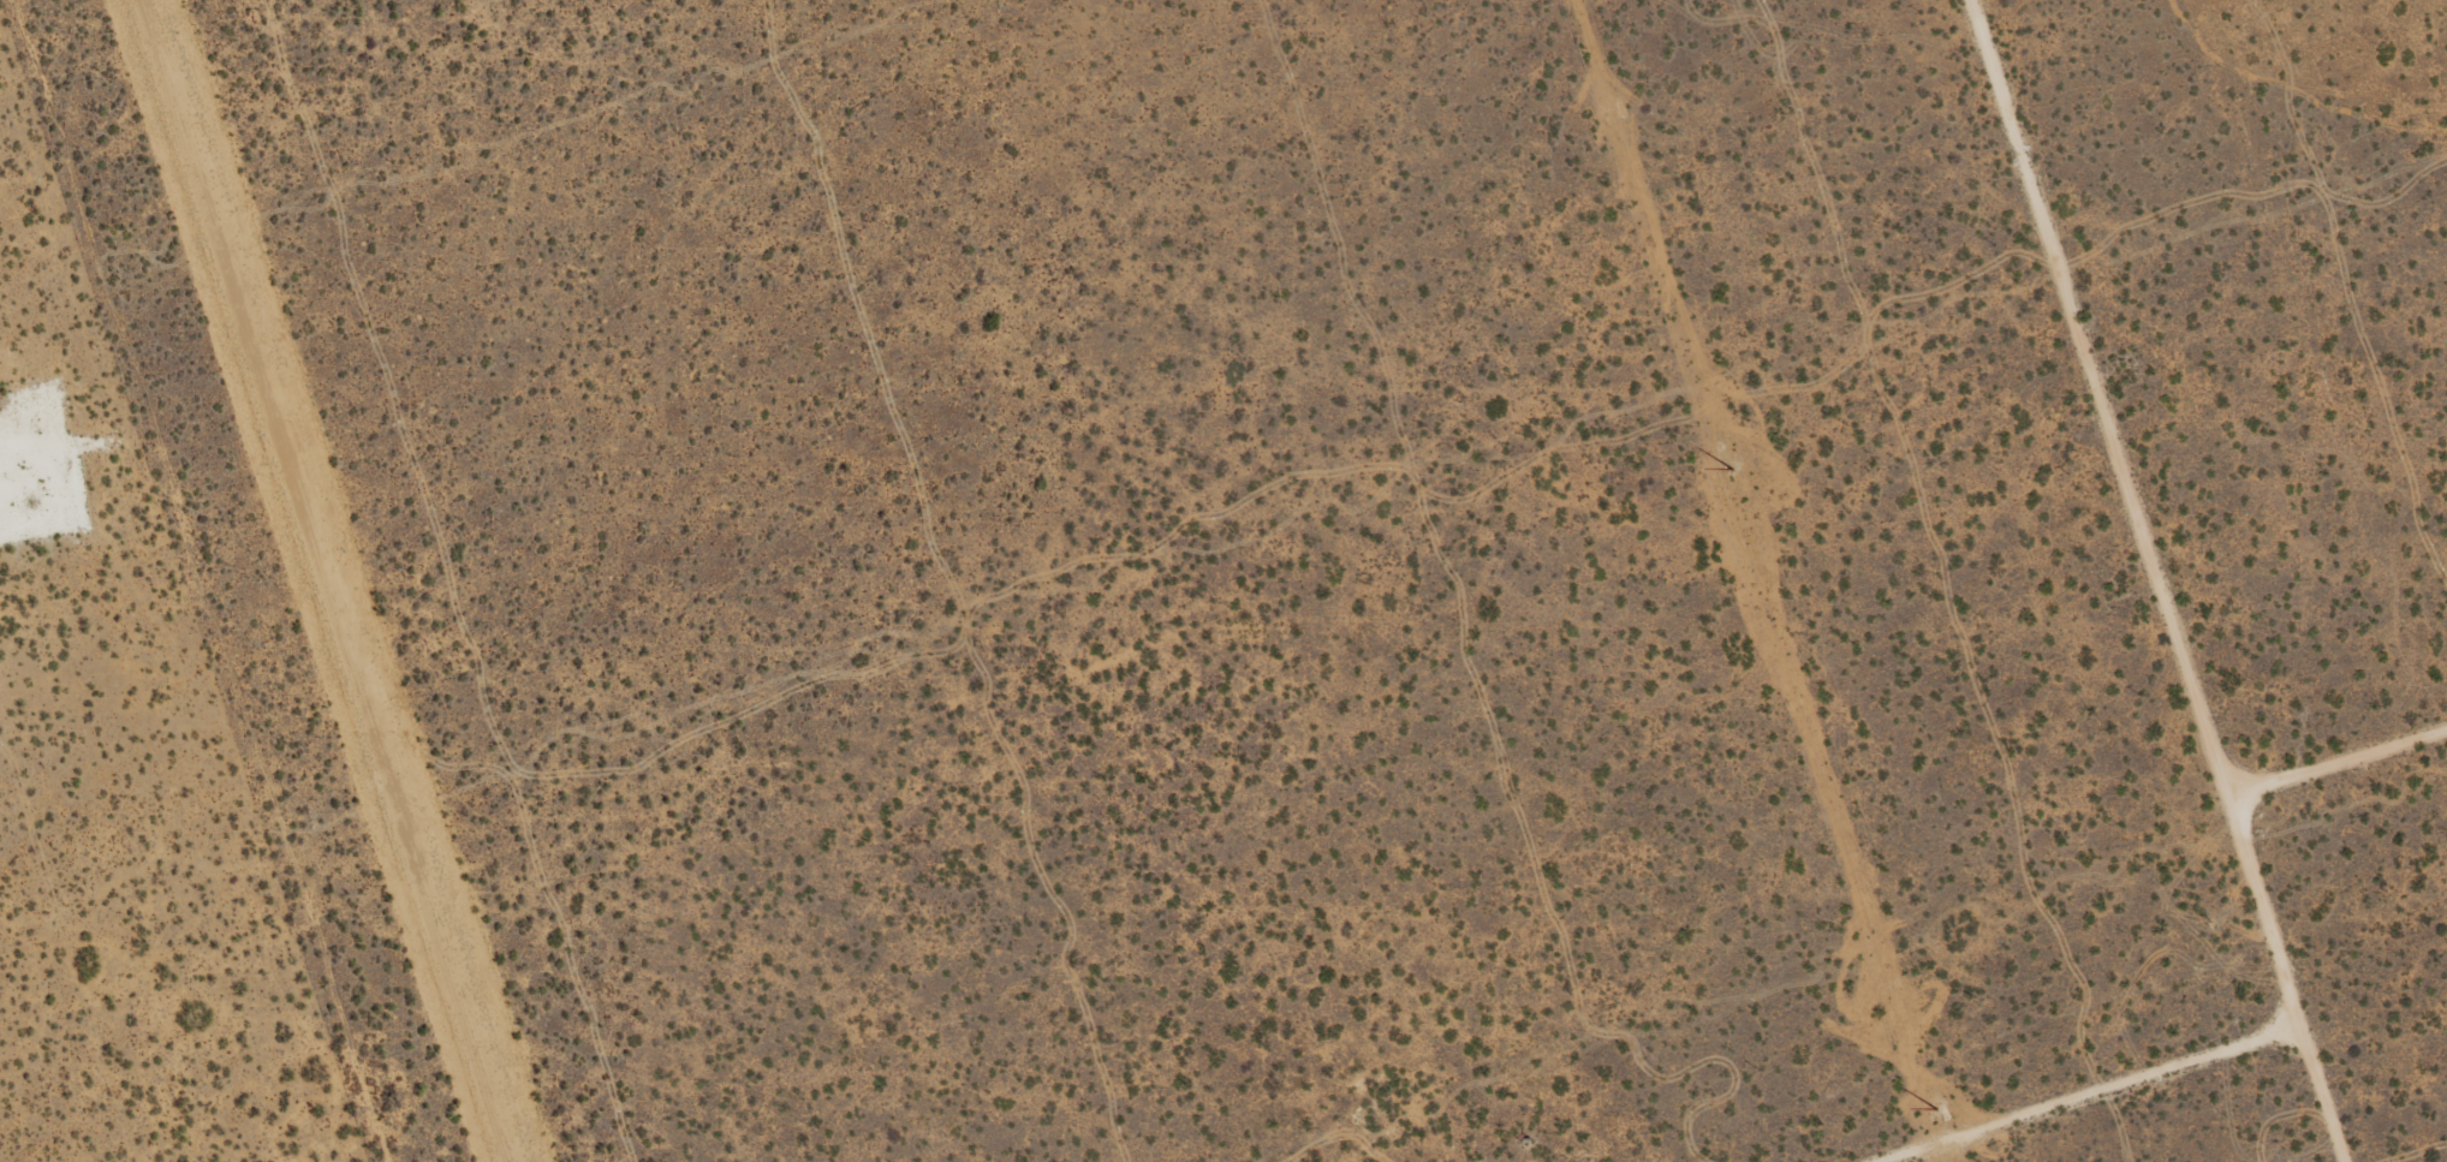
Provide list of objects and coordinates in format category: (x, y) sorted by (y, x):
road: (2167, 579)
road: (2345, 774)
road: (2107, 1094)

